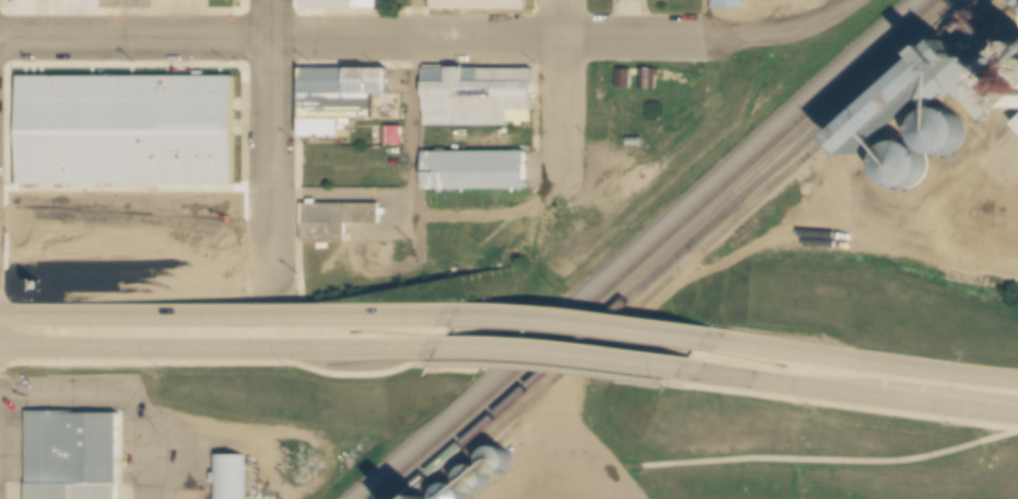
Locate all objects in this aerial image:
building: (480, 2)
building: (1015, 3)
building: (332, 5)
building: (369, 5)
building: (731, 5)
road: (123, 19)
road: (560, 19)
road: (814, 22)
road: (521, 38)
road: (136, 39)
building: (1012, 77)
silo: (1012, 77)
railway: (894, 78)
building: (628, 82)
building: (653, 82)
building: (348, 89)
building: (965, 97)
building: (479, 98)
building: (906, 105)
building: (339, 115)
road: (559, 123)
building: (1017, 130)
road: (414, 131)
building: (129, 134)
building: (324, 135)
building: (395, 138)
building: (946, 141)
silo: (946, 141)
building: (638, 144)
road: (273, 148)
building: (909, 174)
silo: (909, 174)
building: (478, 175)
road: (343, 193)
railway: (744, 202)
road: (136, 205)
road: (482, 207)
building: (343, 217)
building: (327, 236)
railway: (652, 249)
railway: (638, 250)
railway: (681, 250)
road: (453, 263)
road: (228, 316)
road: (581, 322)
railway: (612, 327)
road: (219, 348)
road: (561, 353)
road: (860, 360)
road: (850, 391)
road: (122, 392)
building: (75, 457)
building: (503, 464)
silo: (503, 464)
building: (232, 478)
building: (480, 484)
silo: (480, 484)
building: (459, 494)
silo: (459, 494)

